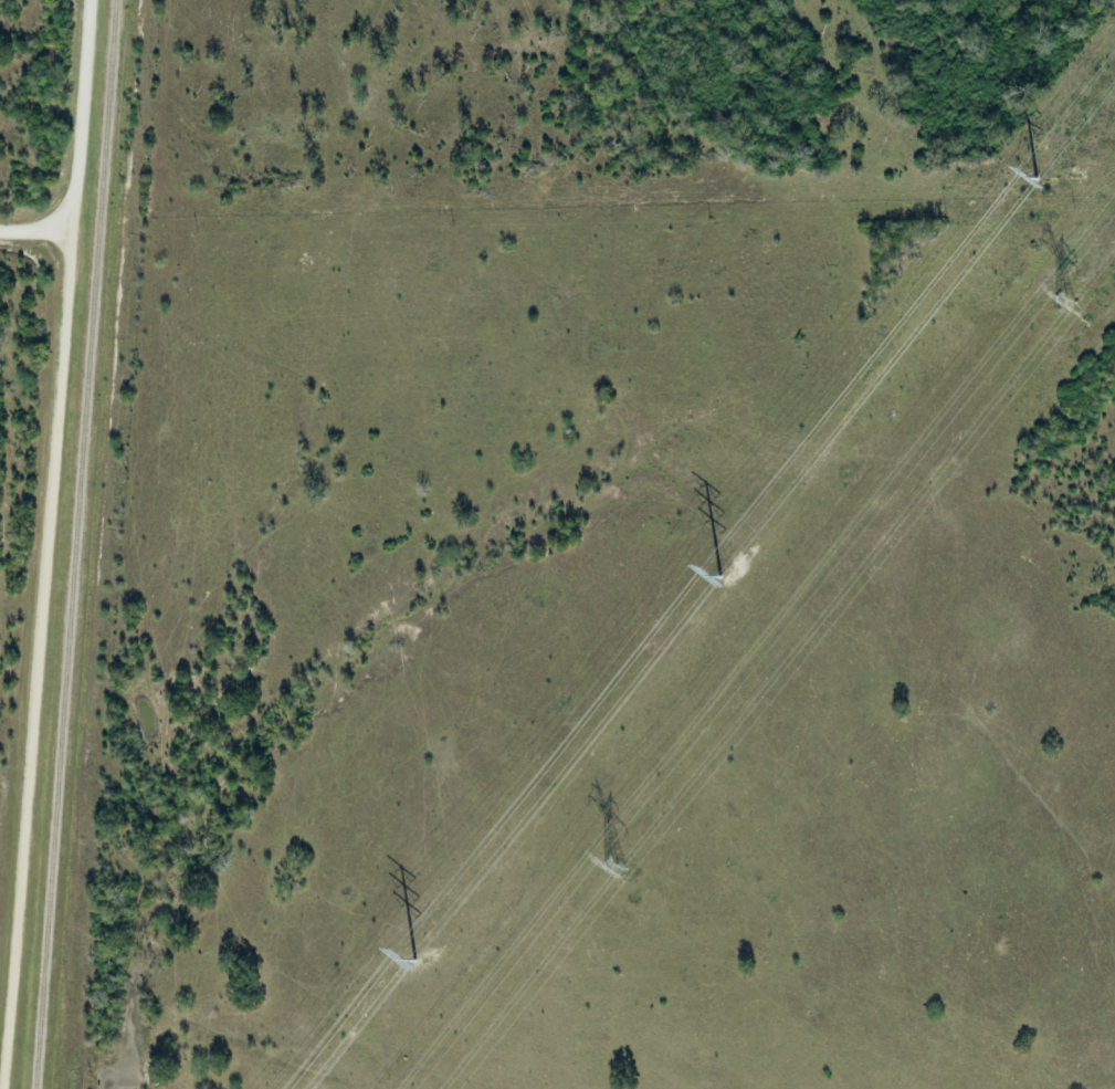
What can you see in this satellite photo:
road: (34, 230)
power tower: (1067, 304)
road: (48, 544)
railway: (76, 544)
power tower: (613, 863)

